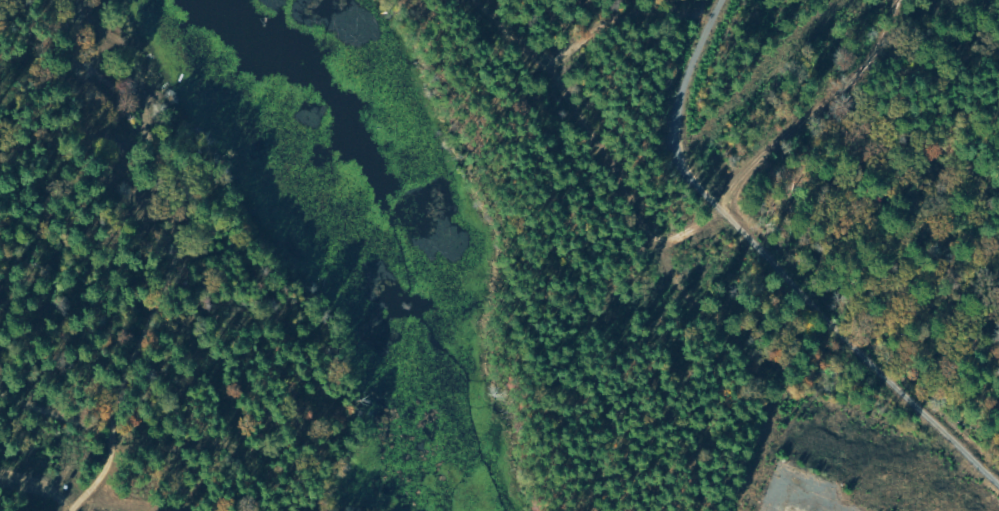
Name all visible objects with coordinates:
road: (73, 497)

